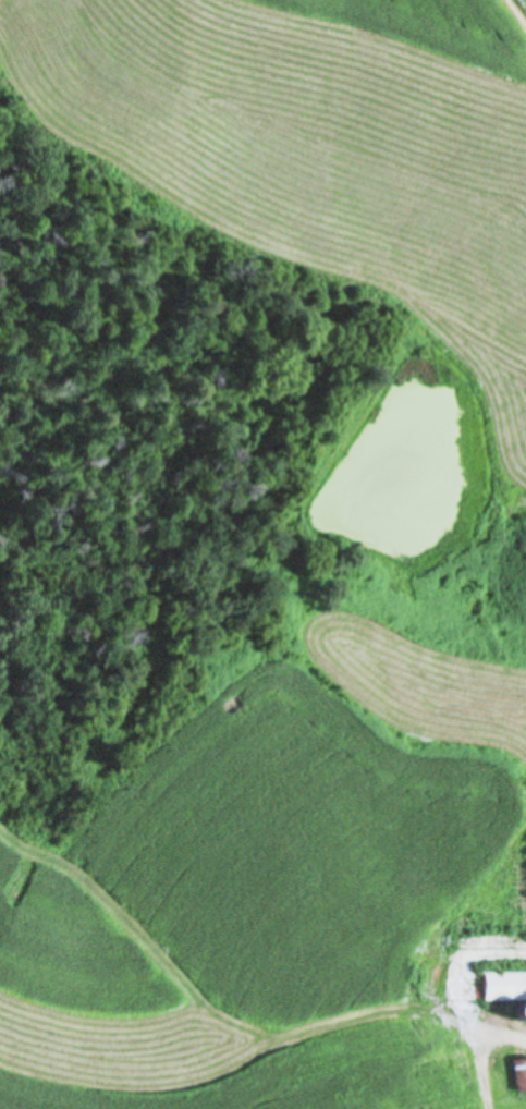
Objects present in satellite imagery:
building: (507, 985)
road: (487, 1097)

